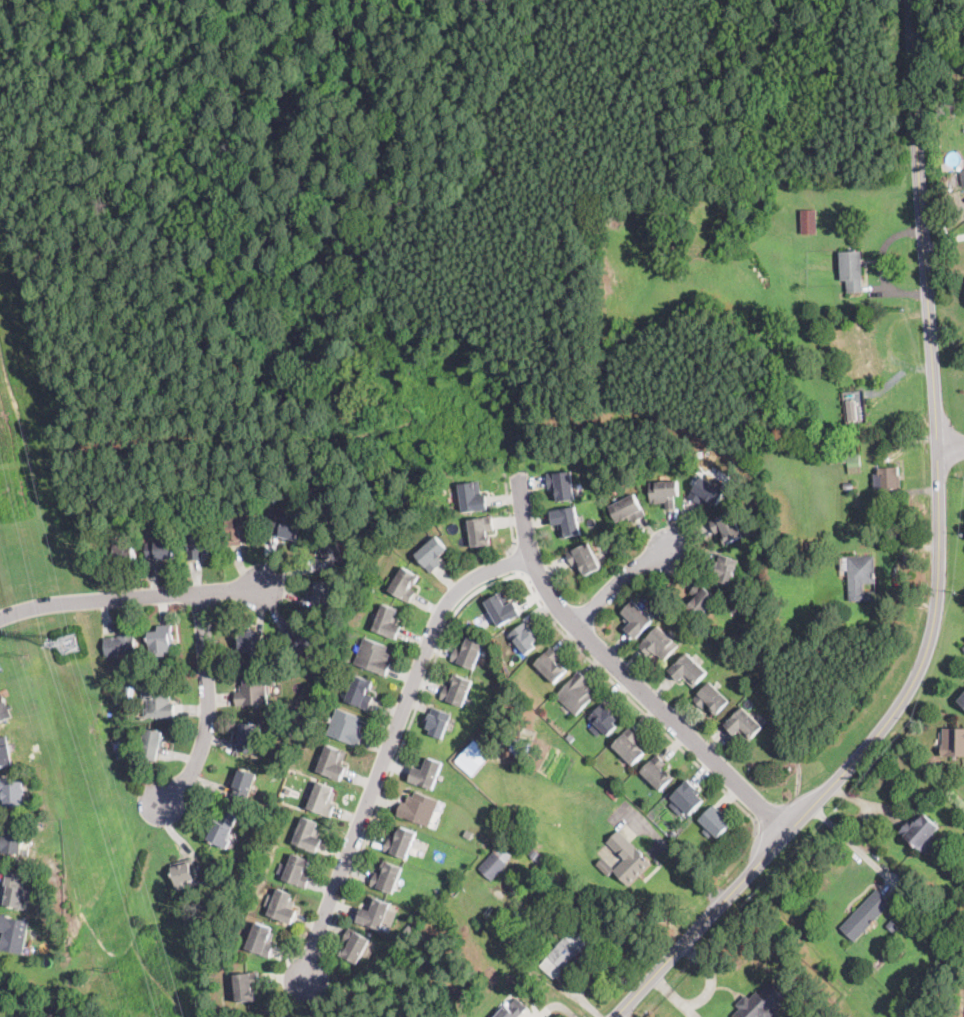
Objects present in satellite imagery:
road: (171, 37)
building: (949, 104)
building: (944, 176)
building: (963, 176)
road: (607, 183)
road: (445, 194)
building: (809, 222)
road: (923, 222)
park: (404, 240)
building: (852, 271)
road: (407, 328)
building: (829, 348)
building: (859, 351)
building: (856, 406)
road: (952, 445)
road: (31, 452)
building: (847, 460)
building: (889, 482)
building: (562, 485)
building: (849, 487)
building: (707, 492)
building: (665, 493)
building: (473, 497)
building: (184, 509)
building: (628, 509)
road: (510, 514)
building: (567, 522)
building: (287, 528)
building: (727, 528)
building: (240, 530)
building: (481, 531)
building: (200, 541)
building: (331, 548)
building: (814, 548)
building: (161, 550)
building: (119, 553)
building: (432, 554)
building: (584, 559)
road: (514, 562)
building: (726, 569)
building: (861, 577)
road: (619, 583)
building: (405, 584)
road: (483, 588)
building: (324, 596)
road: (133, 598)
building: (701, 600)
building: (502, 608)
building: (637, 619)
building: (388, 622)
building: (299, 639)
building: (525, 639)
building: (249, 640)
power tower: (65, 641)
building: (162, 641)
building: (659, 644)
building: (120, 645)
building: (963, 648)
building: (469, 653)
power tower: (24, 655)
building: (374, 656)
road: (923, 662)
building: (552, 665)
building: (148, 668)
road: (621, 671)
building: (689, 671)
building: (457, 691)
building: (361, 692)
building: (253, 693)
building: (576, 693)
building: (712, 698)
building: (962, 700)
building: (159, 701)
building: (111, 703)
road: (209, 706)
building: (4, 709)
building: (296, 710)
building: (606, 719)
building: (438, 722)
building: (744, 724)
building: (347, 727)
building: (293, 732)
building: (570, 736)
building: (249, 737)
building: (152, 742)
building: (953, 742)
building: (514, 743)
road: (390, 745)
building: (629, 747)
building: (5, 752)
building: (473, 756)
building: (333, 763)
building: (426, 773)
building: (658, 773)
building: (949, 780)
building: (488, 781)
building: (243, 787)
building: (289, 789)
building: (613, 792)
building: (12, 793)
building: (688, 797)
building: (323, 800)
building: (419, 808)
building: (715, 821)
building: (223, 829)
building: (673, 832)
building: (922, 833)
building: (309, 836)
building: (11, 838)
building: (401, 844)
road: (852, 844)
building: (535, 855)
road: (681, 858)
building: (629, 859)
building: (606, 864)
building: (493, 866)
building: (299, 871)
building: (184, 873)
building: (387, 878)
building: (454, 891)
building: (13, 892)
building: (283, 907)
building: (374, 914)
building: (866, 915)
building: (892, 923)
road: (701, 924)
building: (14, 934)
building: (262, 941)
building: (355, 946)
building: (566, 951)
building: (879, 963)
power tower: (115, 970)
road: (710, 976)
building: (247, 987)
road: (674, 996)
building: (761, 1003)
building: (417, 1005)
building: (514, 1009)
building: (269, 1016)

